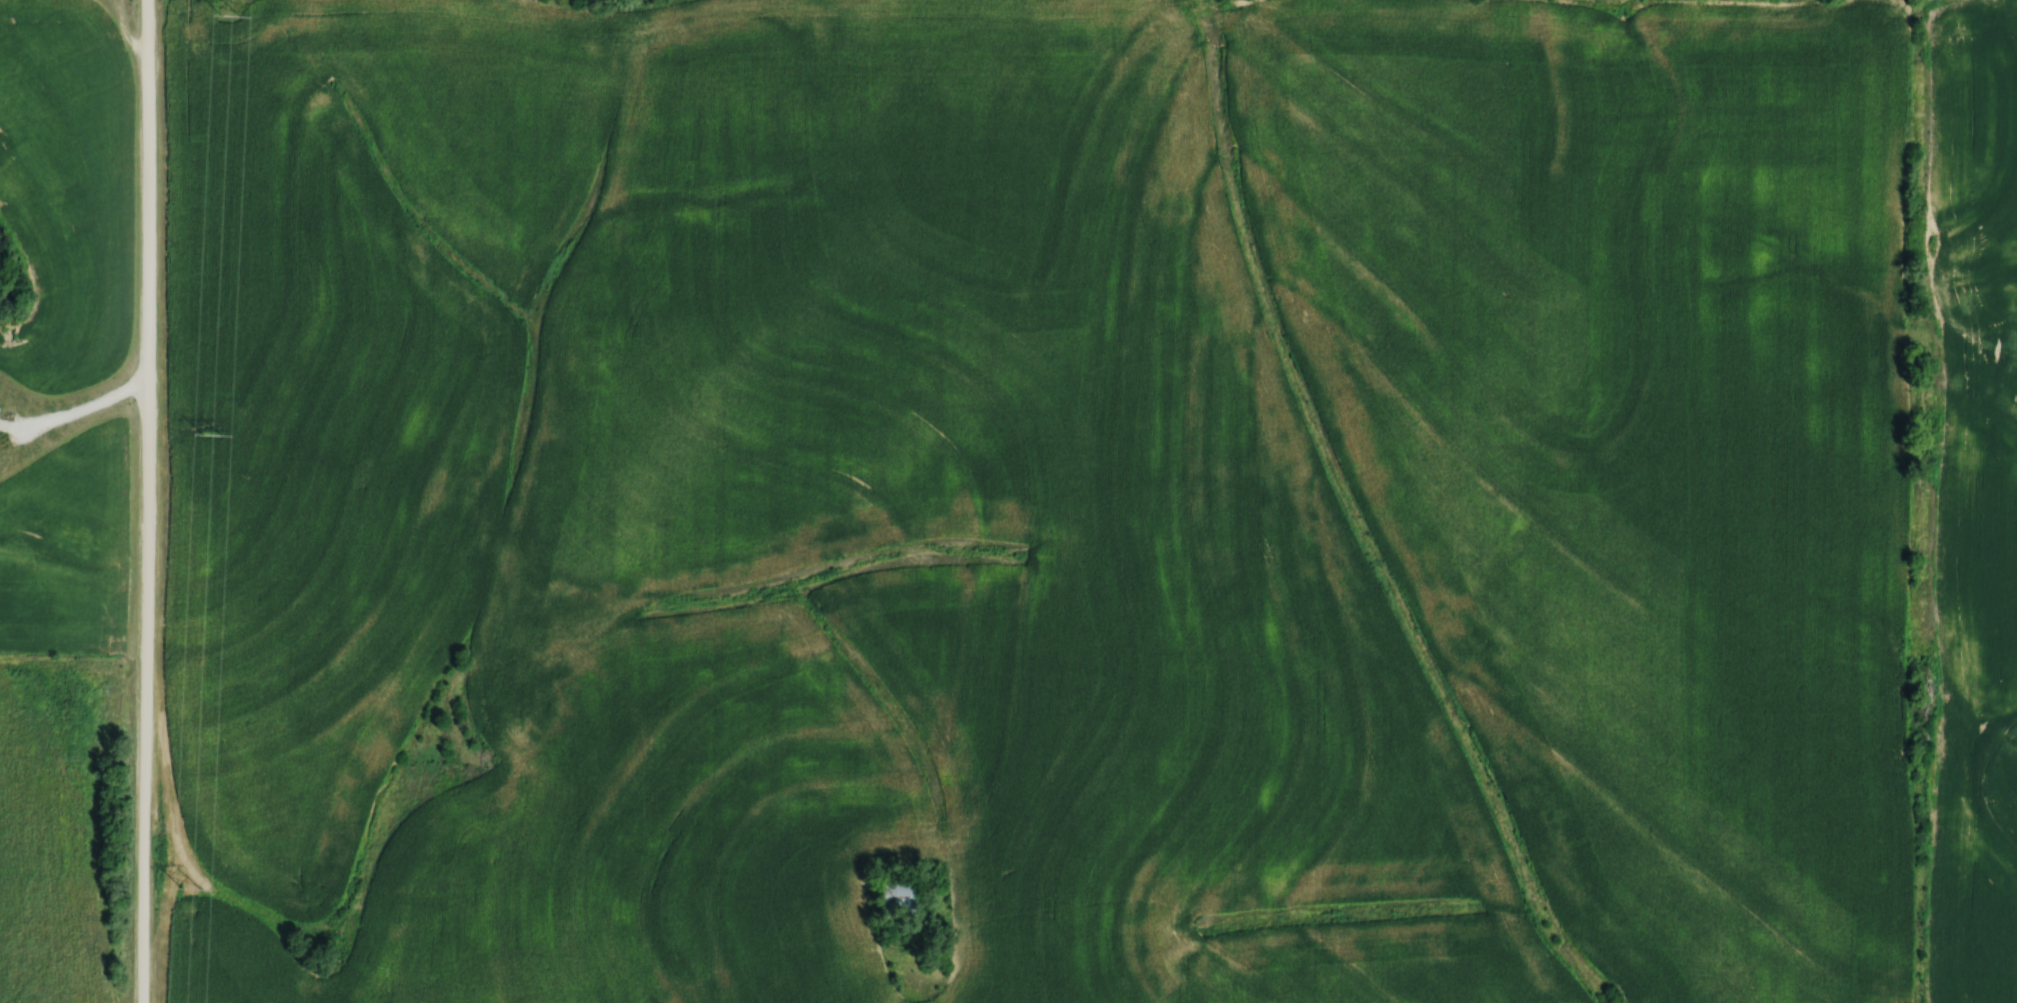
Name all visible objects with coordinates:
road: (76, 411)
power tower: (222, 435)
road: (149, 501)
power tower: (202, 894)
building: (897, 895)

